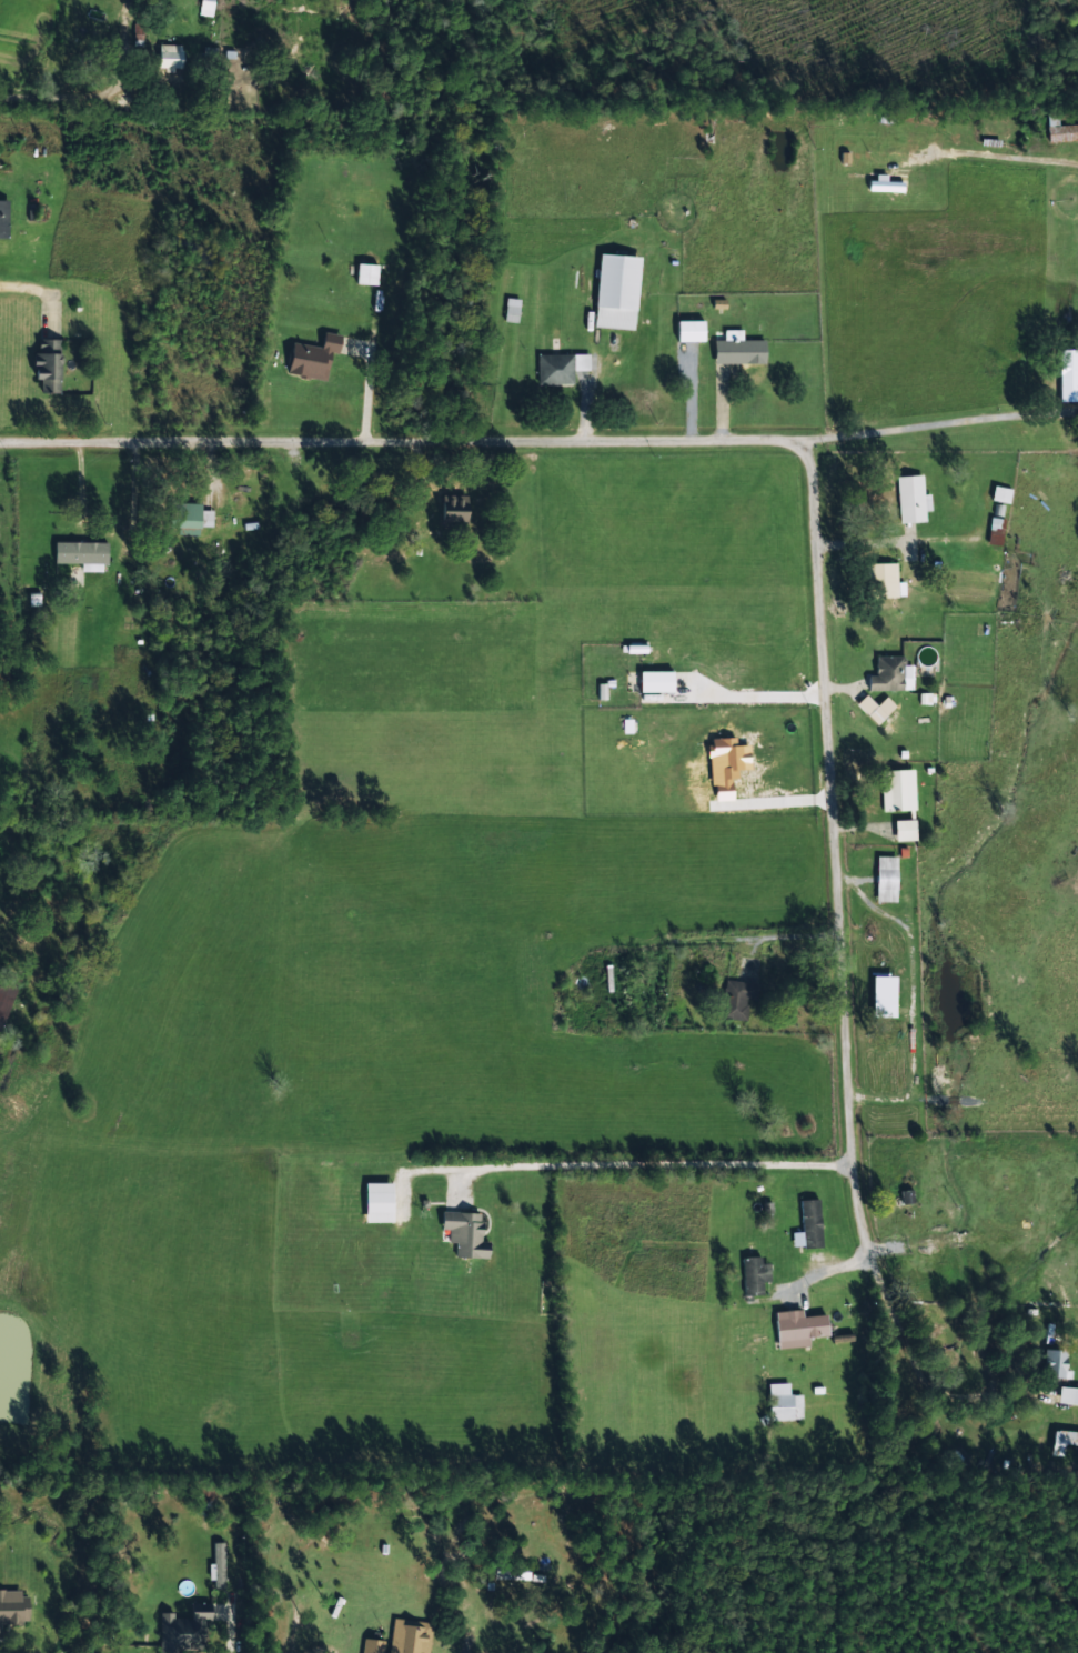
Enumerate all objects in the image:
building: (168, 58)
building: (1061, 134)
building: (2, 220)
building: (365, 275)
building: (614, 293)
building: (510, 315)
building: (736, 353)
building: (310, 359)
building: (43, 367)
building: (558, 370)
building: (1066, 378)
road: (924, 441)
building: (999, 495)
building: (908, 500)
building: (451, 512)
building: (185, 519)
building: (993, 534)
building: (78, 555)
road: (777, 565)
building: (879, 581)
building: (885, 677)
building: (896, 792)
building: (884, 881)
building: (6, 992)
building: (734, 1001)
building: (450, 1209)
building: (808, 1224)
building: (749, 1276)
building: (798, 1329)
building: (1050, 1366)
building: (1067, 1396)
building: (783, 1409)
building: (202, 1501)
building: (216, 1566)
building: (508, 1572)
building: (11, 1607)
building: (183, 1631)
building: (407, 1637)
building: (371, 1646)

